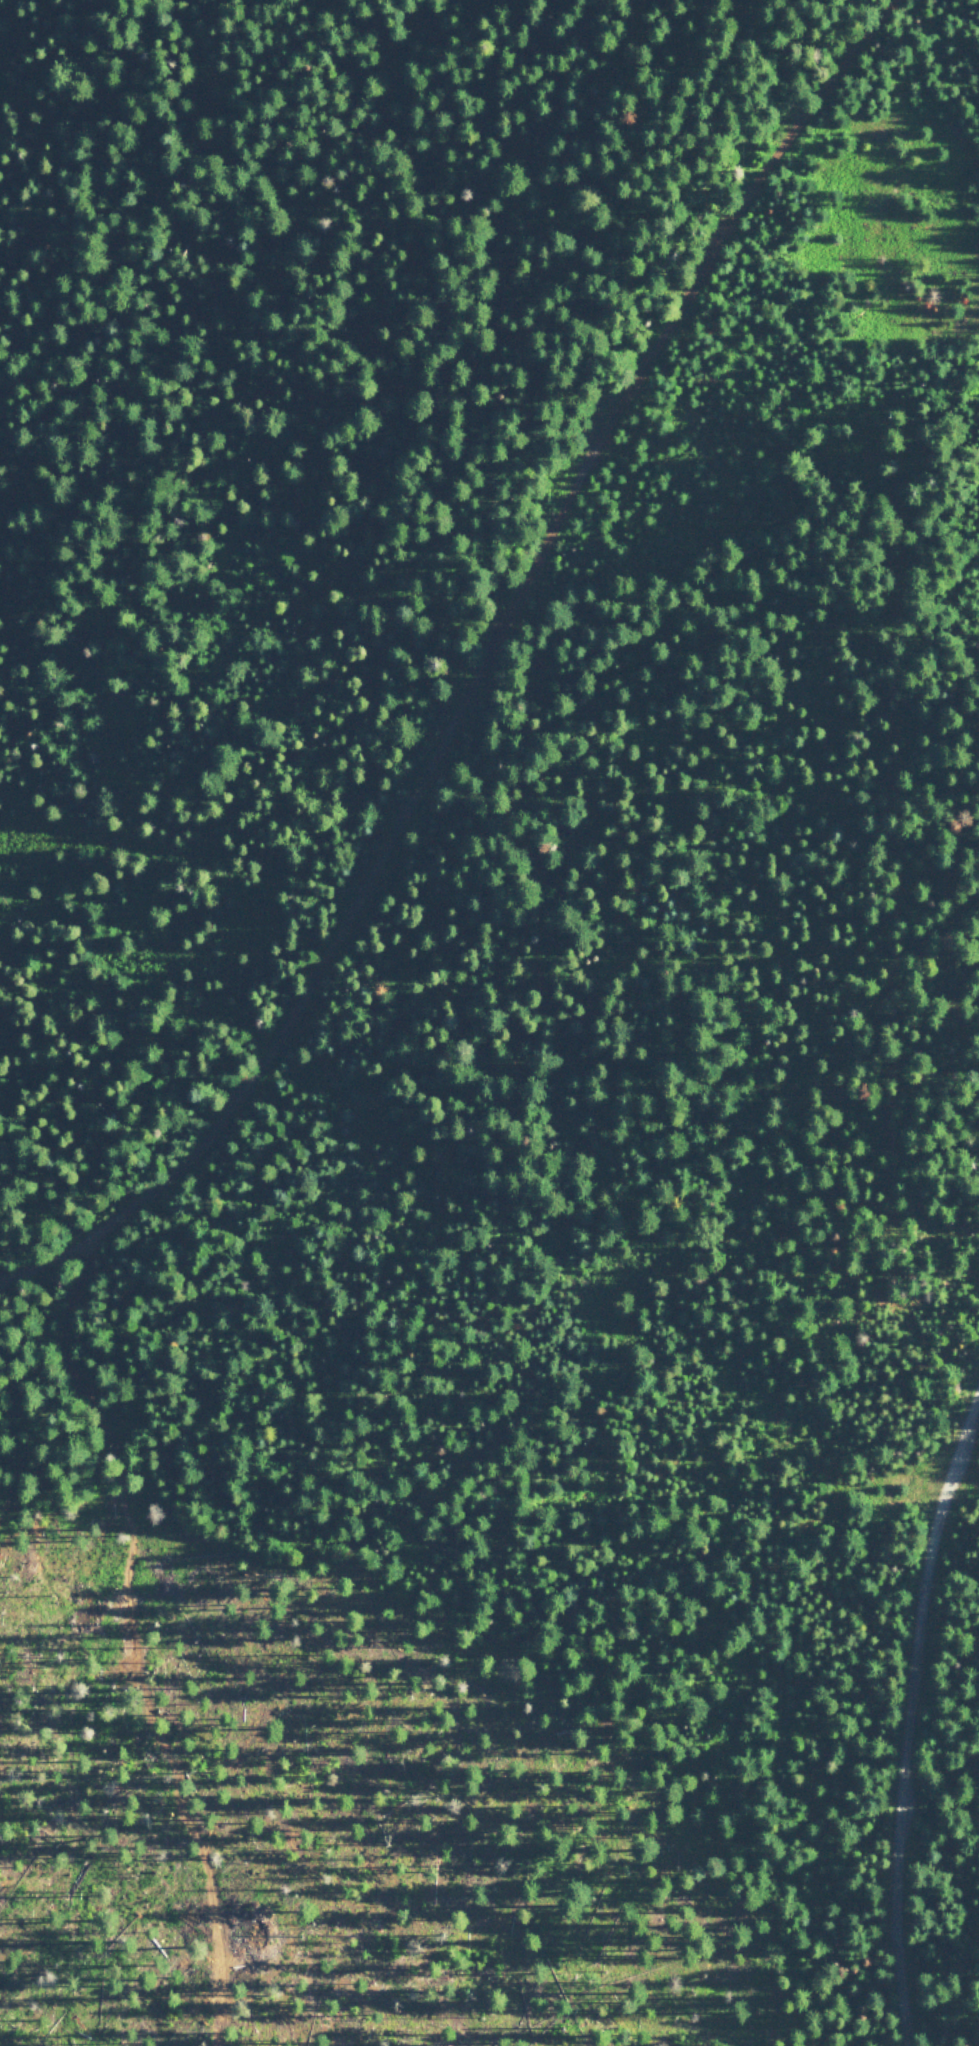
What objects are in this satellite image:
road: (493, 684)
road: (908, 1706)

